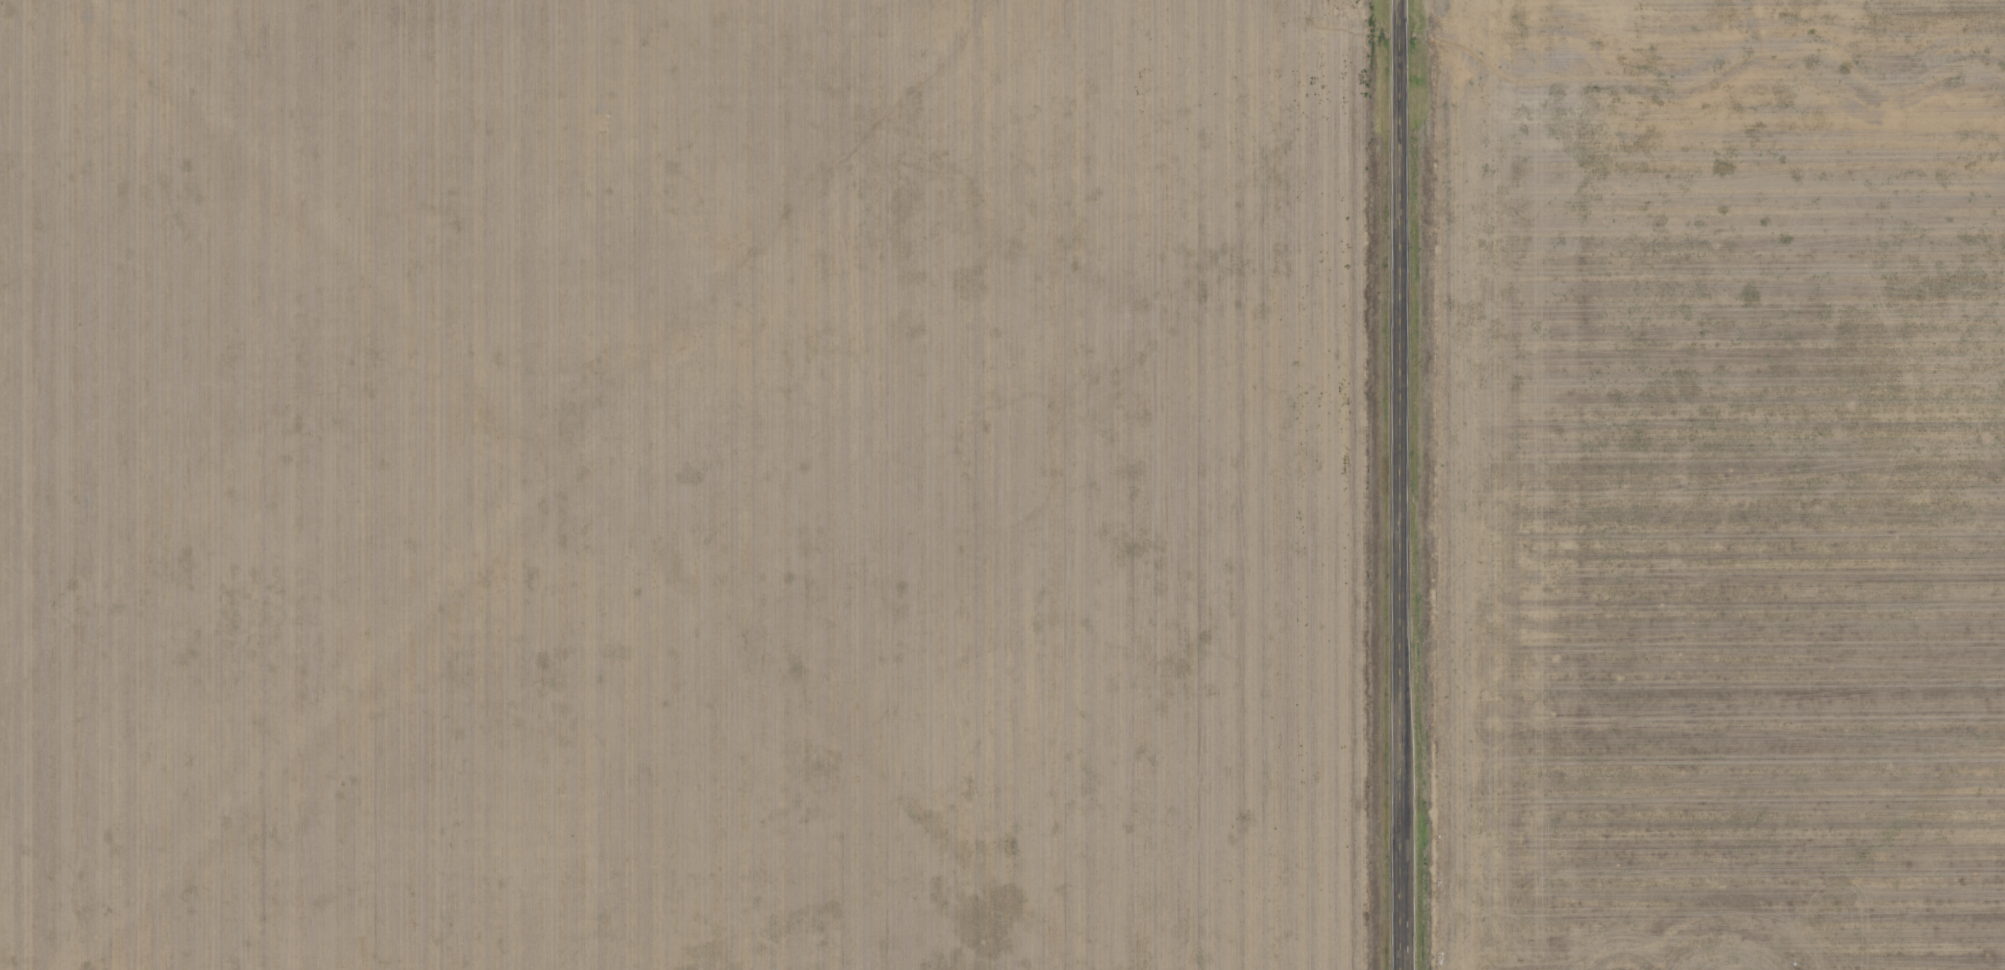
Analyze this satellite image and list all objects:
road: (1404, 485)

